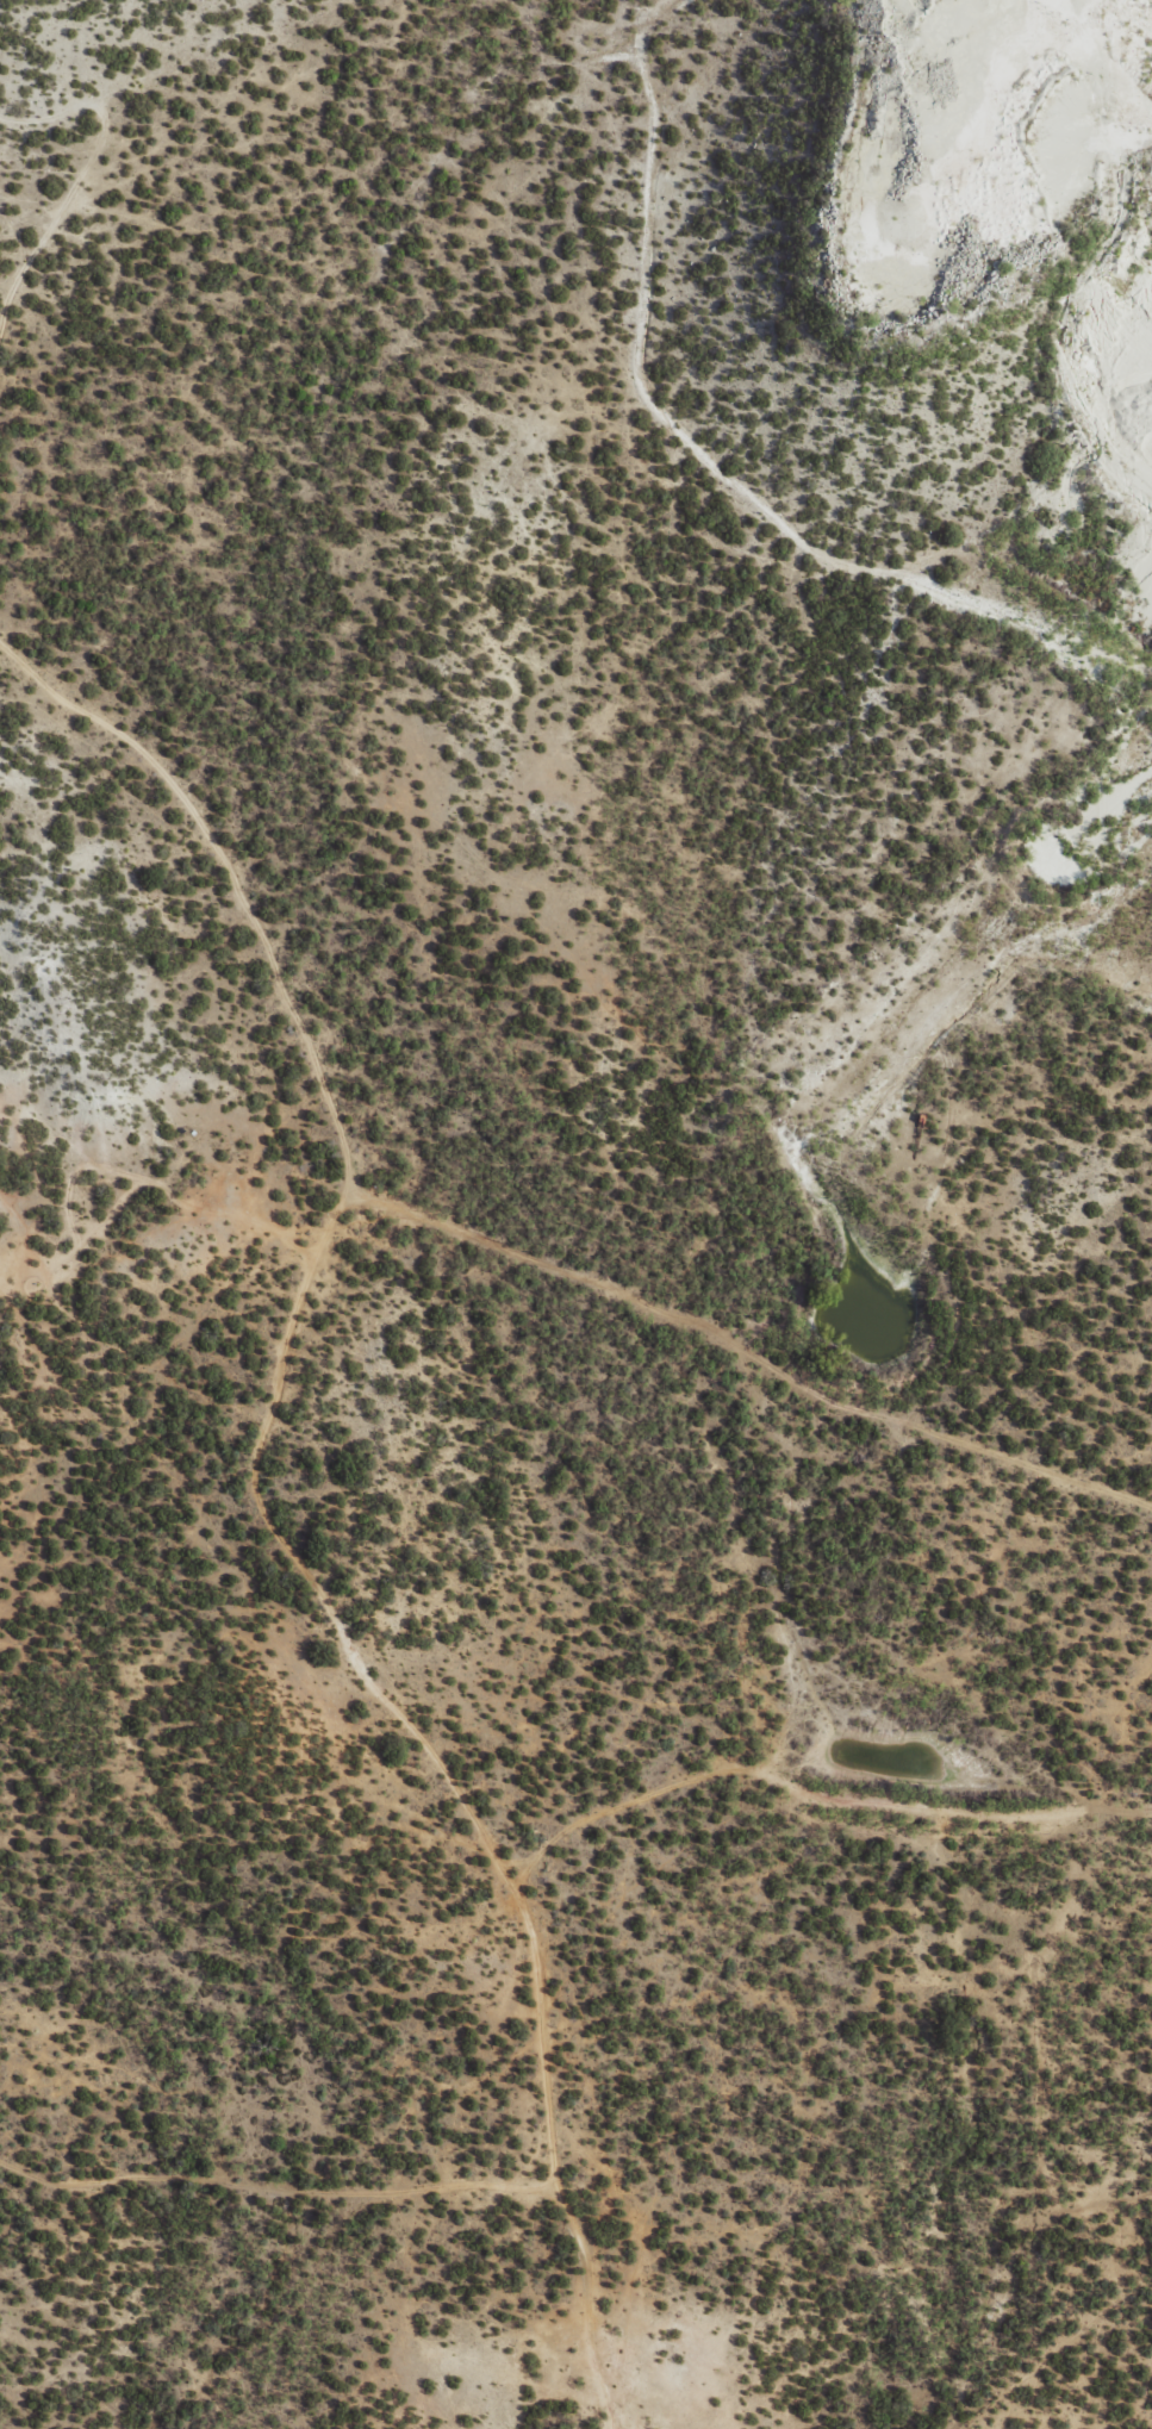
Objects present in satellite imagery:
road: (107, 2384)

